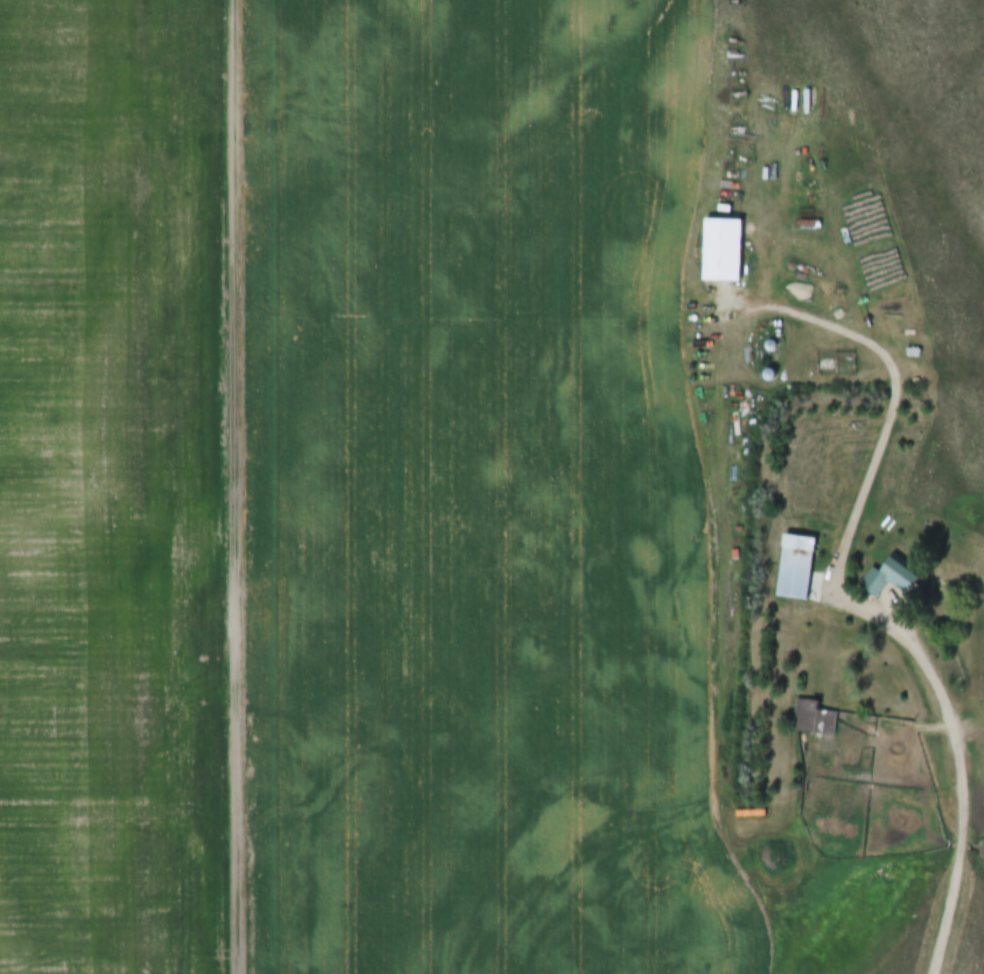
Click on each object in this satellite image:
road: (478, 321)
road: (899, 389)
road: (234, 487)
building: (799, 568)
building: (894, 580)
building: (817, 719)
road: (959, 756)

